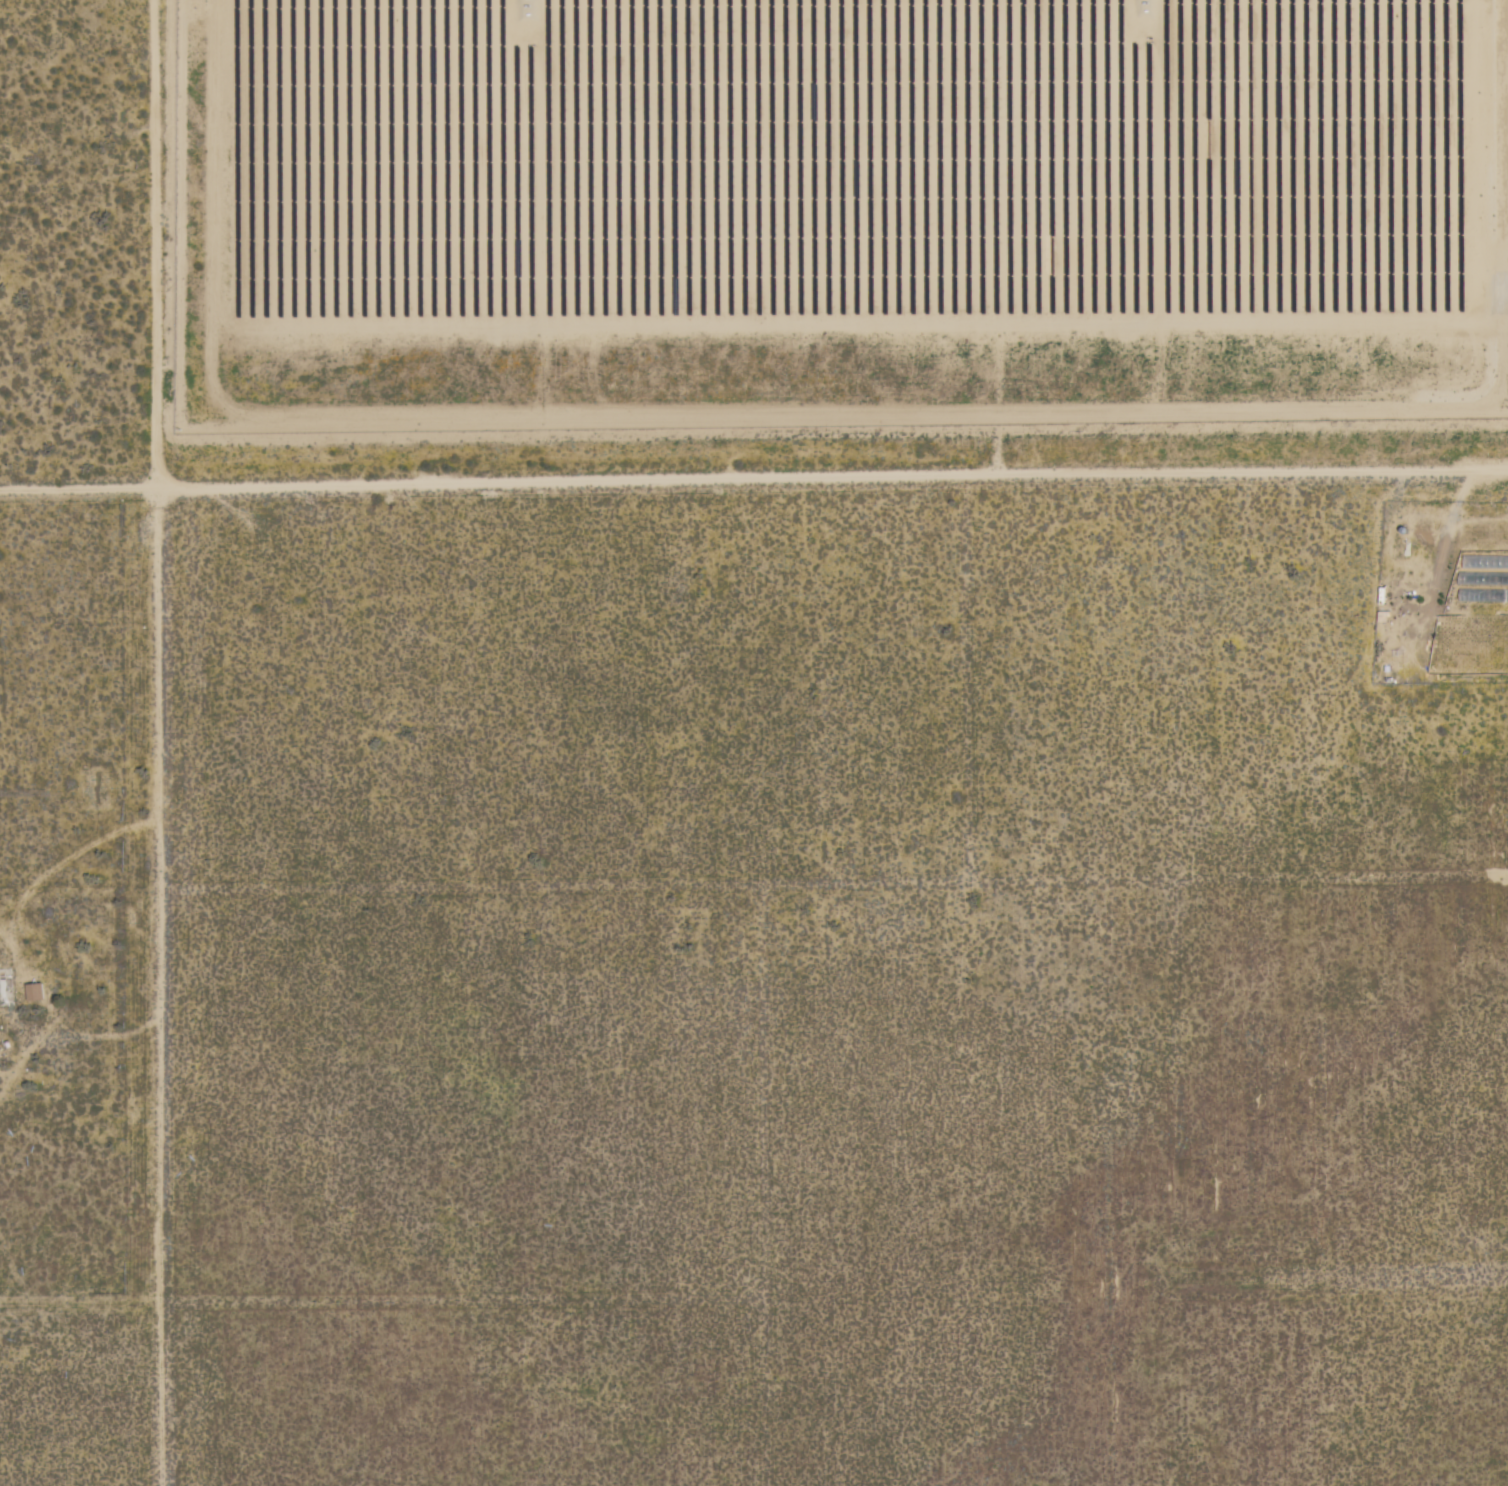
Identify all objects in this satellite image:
solar farm: (851, 209)
road: (153, 249)
road: (1312, 478)
road: (636, 486)
road: (78, 498)
building: (3, 989)
road: (159, 992)

